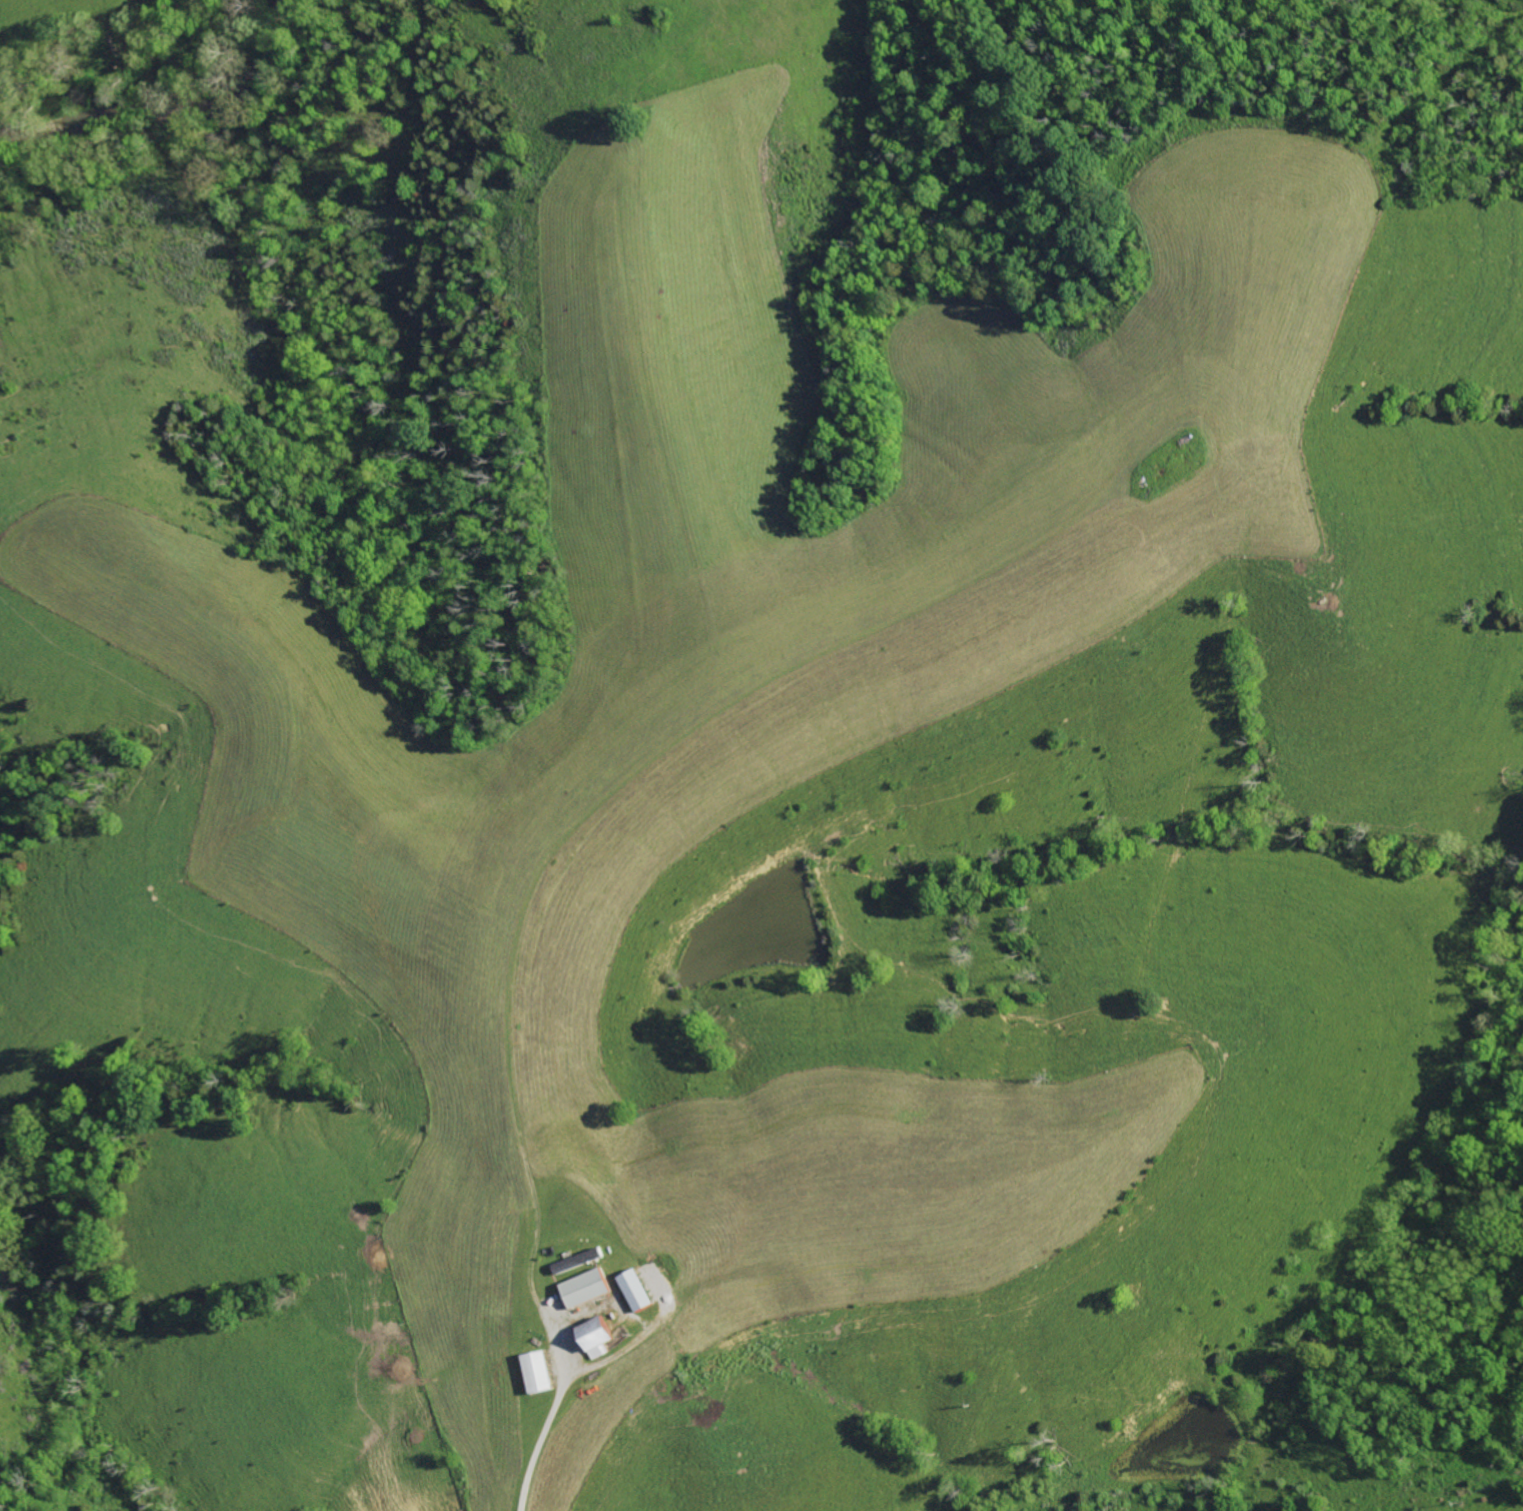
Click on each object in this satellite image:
building: (588, 1288)
building: (638, 1290)
building: (599, 1337)
building: (540, 1372)

